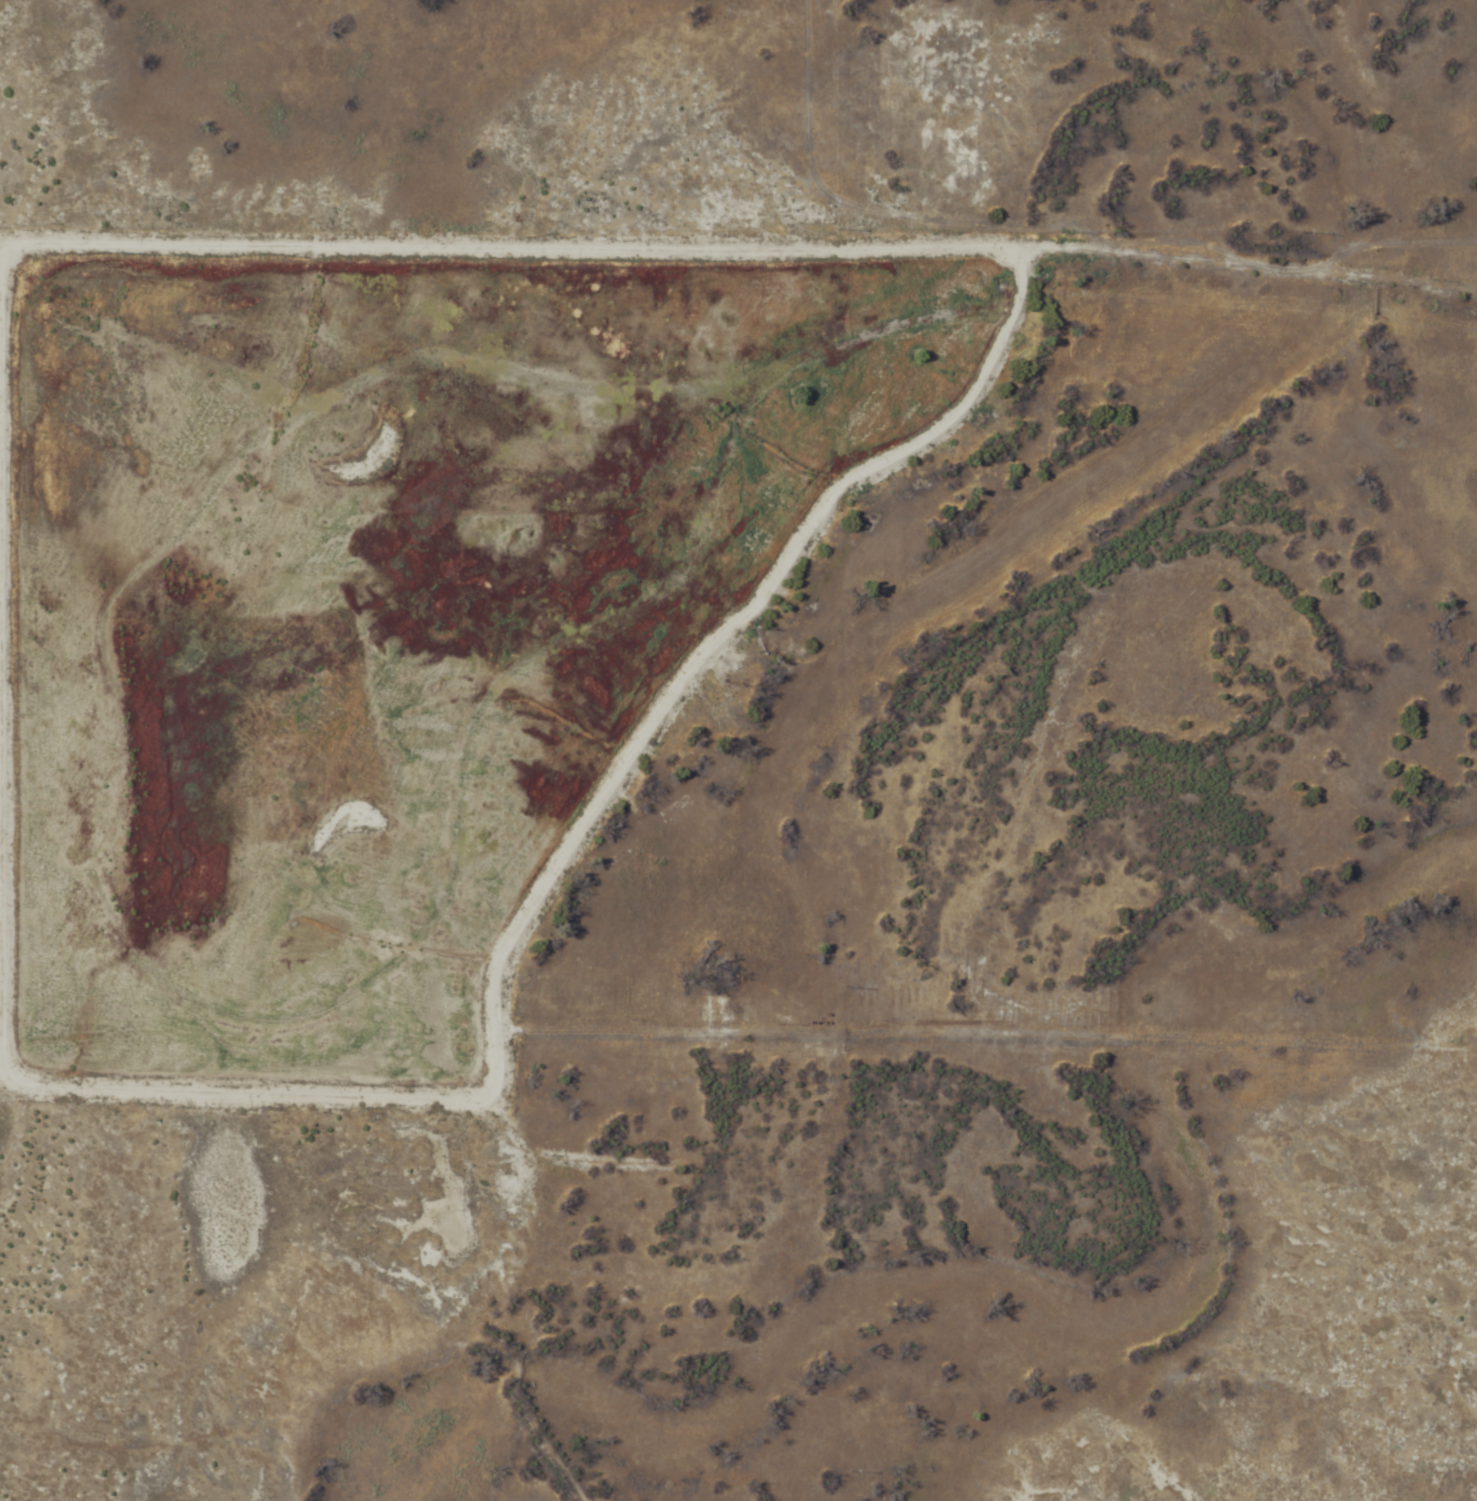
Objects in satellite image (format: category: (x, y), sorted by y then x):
road: (739, 323)

